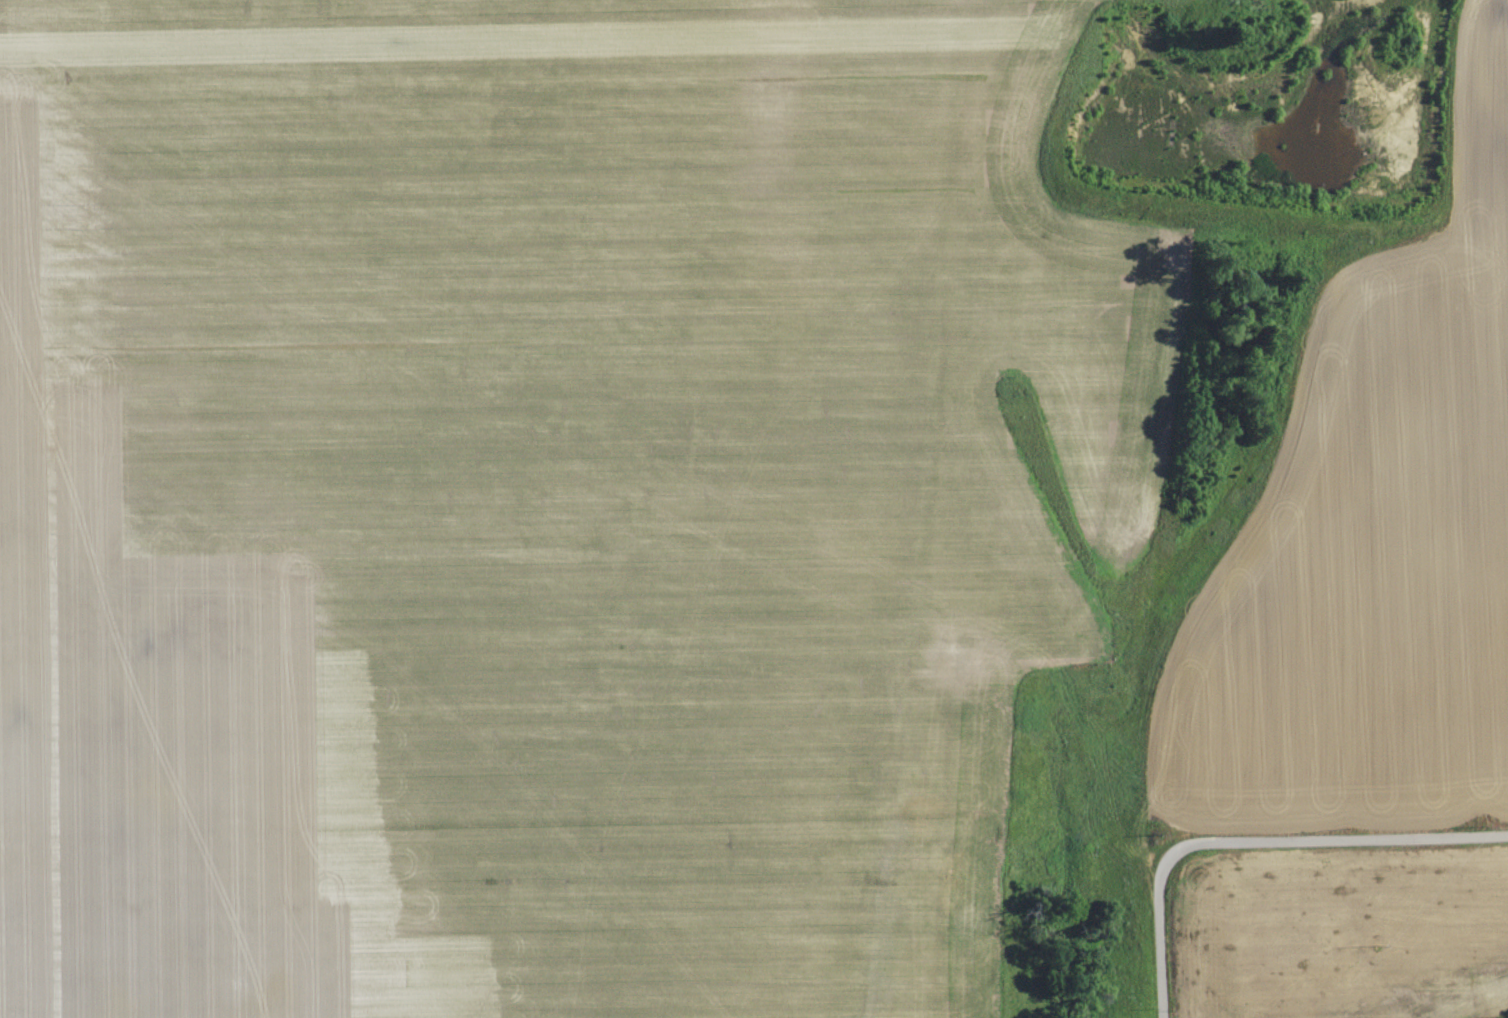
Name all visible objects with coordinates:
road: (1251, 838)
road: (853, 912)

